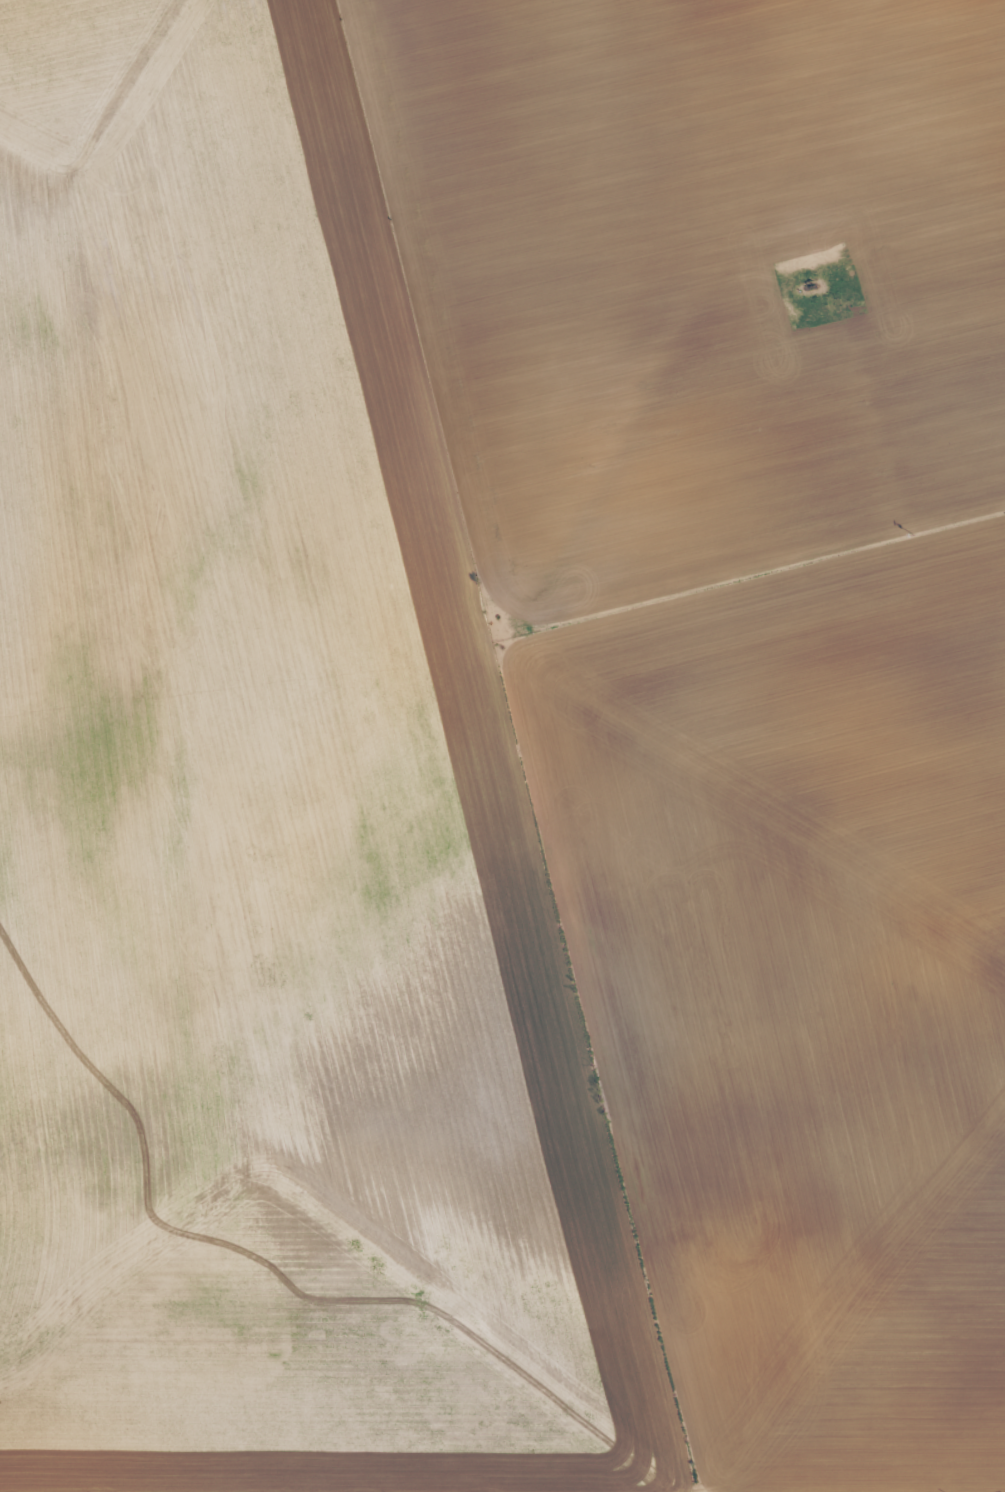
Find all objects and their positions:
road: (200, 1338)

